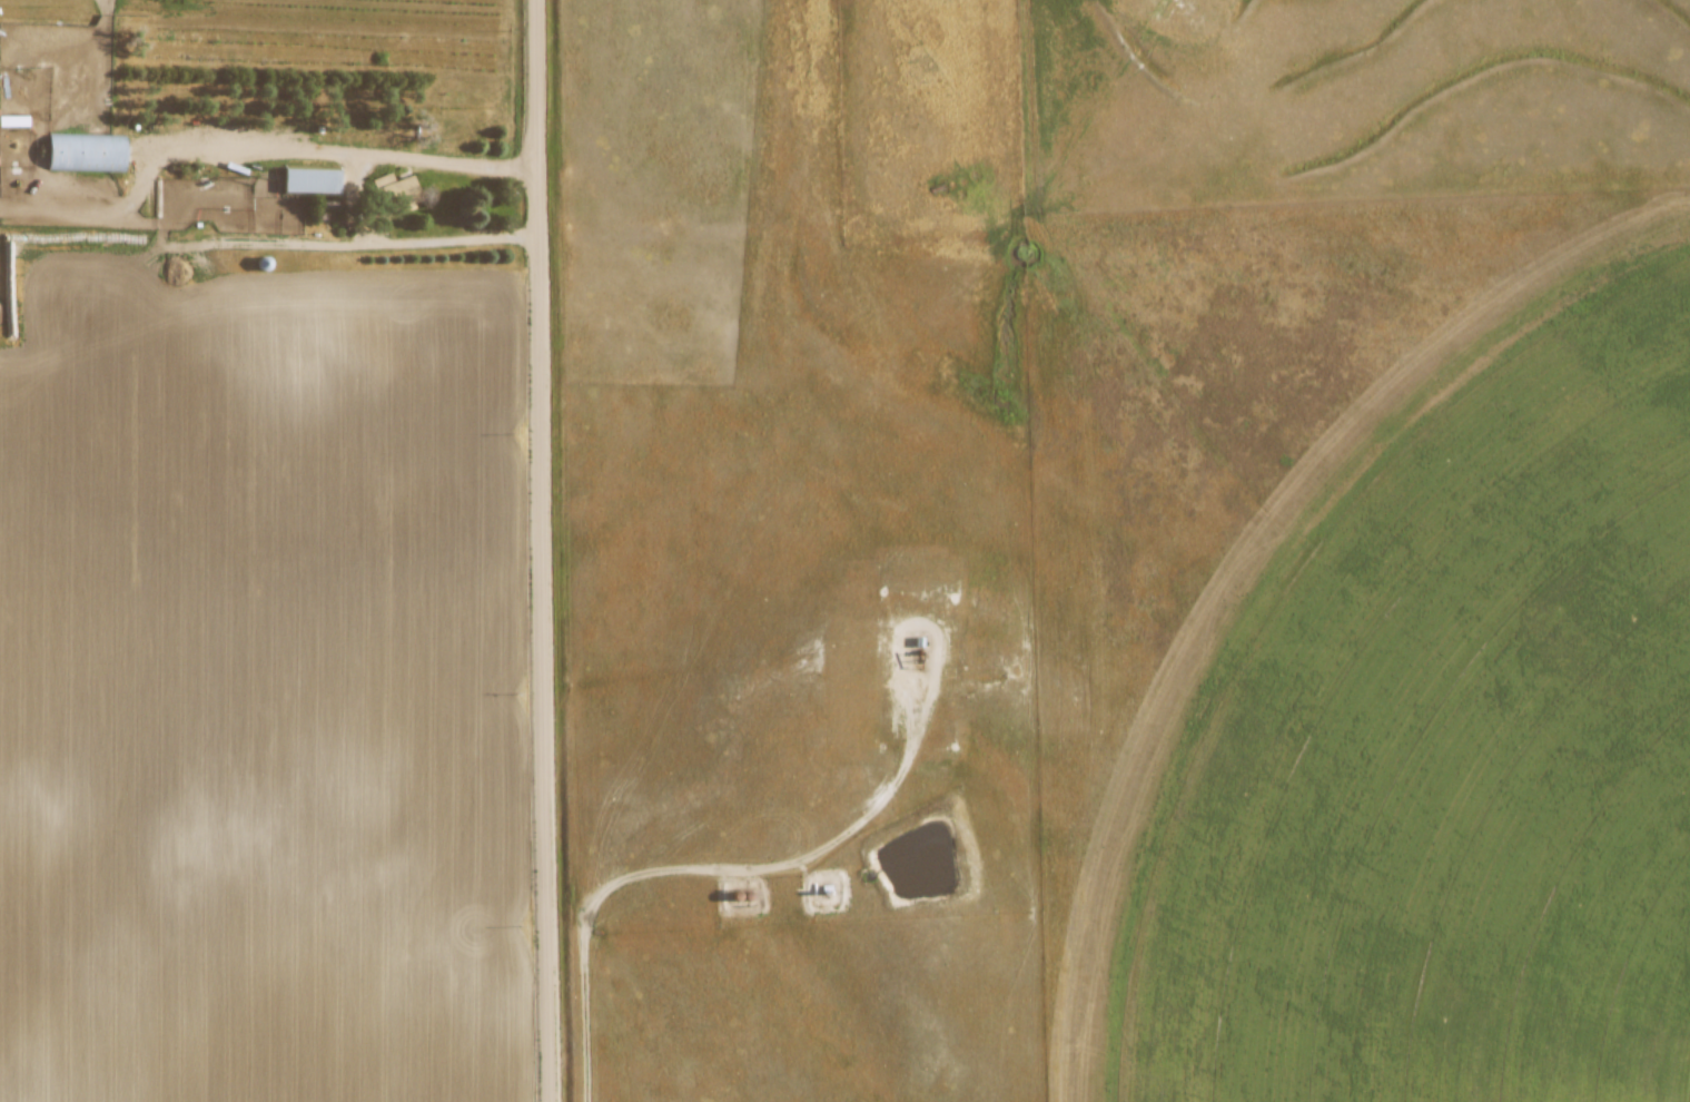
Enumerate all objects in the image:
building: (87, 151)
building: (313, 179)
road: (354, 201)
road: (543, 551)
road: (719, 876)

